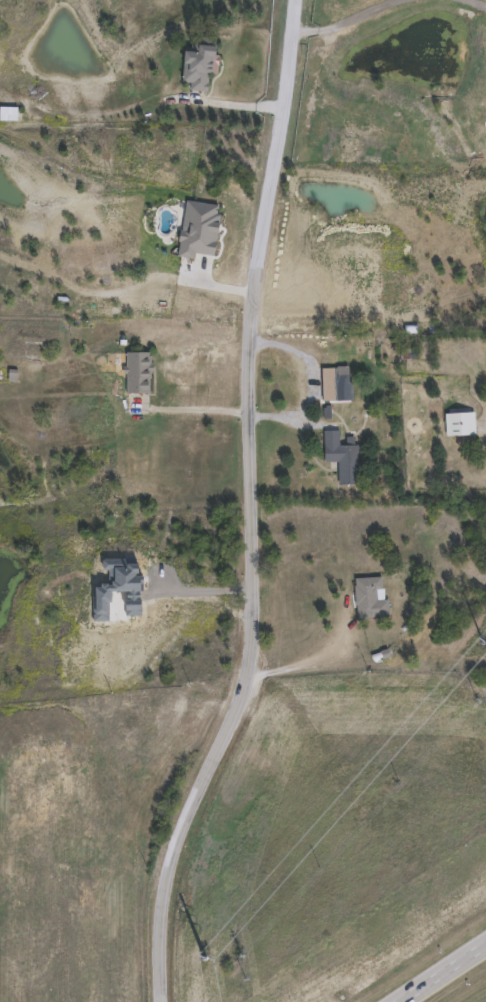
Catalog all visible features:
building: (198, 66)
road: (238, 104)
building: (8, 112)
road: (217, 287)
building: (406, 352)
building: (367, 356)
building: (407, 356)
building: (136, 371)
building: (331, 380)
road: (309, 386)
road: (200, 409)
building: (341, 456)
road: (261, 509)
building: (369, 594)
road: (209, 600)
power tower: (482, 645)
road: (317, 662)
power tower: (203, 960)
road: (440, 973)

